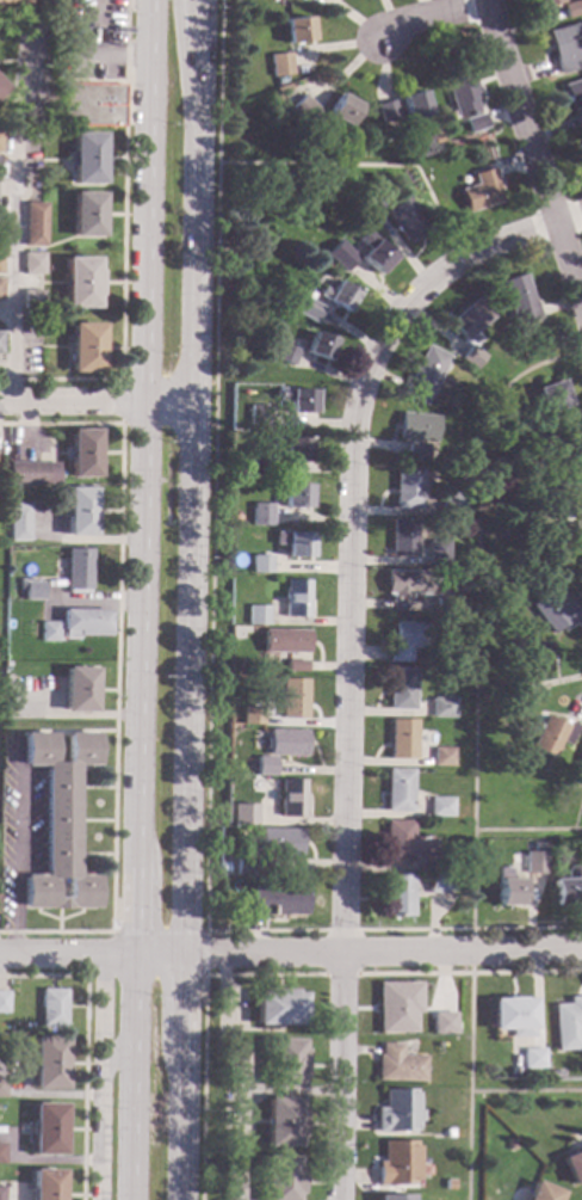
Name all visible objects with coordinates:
building: (12, 1)
building: (546, 2)
building: (571, 10)
road: (100, 16)
road: (429, 17)
building: (296, 30)
building: (566, 47)
building: (279, 64)
road: (188, 70)
road: (25, 82)
building: (1, 88)
building: (459, 90)
building: (572, 94)
building: (93, 105)
building: (303, 109)
building: (342, 110)
building: (414, 111)
building: (386, 112)
building: (578, 122)
building: (476, 124)
building: (436, 140)
building: (1, 142)
road: (533, 144)
building: (87, 158)
road: (143, 164)
road: (366, 166)
building: (479, 192)
building: (369, 201)
building: (87, 215)
road: (570, 215)
building: (1, 217)
building: (405, 221)
building: (36, 224)
road: (123, 250)
building: (373, 252)
building: (340, 256)
building: (1, 263)
building: (33, 264)
road: (13, 267)
building: (82, 283)
building: (1, 290)
building: (336, 296)
building: (33, 300)
building: (519, 301)
building: (301, 307)
building: (41, 321)
building: (469, 322)
building: (0, 343)
building: (318, 347)
building: (85, 349)
road: (581, 351)
building: (284, 353)
building: (471, 357)
road: (143, 364)
building: (482, 367)
building: (422, 375)
building: (444, 392)
building: (552, 396)
road: (122, 400)
building: (296, 400)
road: (70, 401)
road: (169, 401)
building: (256, 417)
building: (415, 427)
building: (533, 427)
building: (291, 449)
building: (82, 454)
building: (415, 454)
building: (566, 455)
building: (254, 464)
road: (213, 466)
building: (26, 474)
road: (193, 480)
building: (552, 486)
building: (407, 490)
building: (293, 497)
building: (518, 497)
building: (451, 505)
building: (576, 505)
building: (79, 512)
building: (259, 515)
building: (233, 518)
building: (18, 523)
building: (565, 534)
building: (402, 537)
building: (293, 544)
building: (436, 553)
building: (259, 565)
road: (527, 566)
building: (76, 572)
building: (407, 585)
building: (30, 590)
building: (295, 599)
building: (444, 608)
building: (556, 610)
road: (472, 613)
building: (256, 616)
building: (86, 622)
building: (49, 632)
road: (136, 633)
building: (405, 640)
building: (284, 641)
building: (531, 653)
road: (347, 656)
building: (296, 666)
road: (116, 672)
building: (400, 689)
building: (79, 690)
building: (518, 691)
building: (292, 700)
building: (441, 708)
building: (250, 715)
building: (552, 734)
building: (401, 739)
building: (280, 743)
building: (580, 757)
building: (441, 758)
building: (264, 767)
building: (397, 790)
building: (291, 799)
building: (440, 808)
building: (243, 816)
building: (58, 825)
road: (526, 830)
building: (279, 843)
building: (402, 843)
building: (535, 848)
building: (533, 862)
building: (431, 863)
building: (244, 864)
building: (439, 884)
building: (566, 888)
building: (506, 890)
building: (397, 897)
building: (277, 900)
road: (129, 912)
road: (471, 929)
road: (265, 930)
road: (342, 930)
road: (156, 931)
road: (470, 950)
road: (205, 953)
road: (380, 955)
road: (63, 958)
road: (154, 959)
road: (341, 973)
road: (470, 973)
road: (145, 976)
building: (4, 1003)
road: (180, 1004)
building: (52, 1008)
building: (279, 1008)
building: (397, 1008)
building: (512, 1016)
building: (566, 1023)
building: (442, 1024)
road: (203, 1028)
road: (85, 1045)
road: (113, 1056)
building: (532, 1059)
building: (49, 1064)
building: (285, 1064)
building: (398, 1066)
road: (101, 1078)
road: (125, 1078)
road: (466, 1085)
building: (1, 1087)
road: (524, 1090)
building: (397, 1113)
building: (283, 1122)
road: (179, 1125)
building: (48, 1130)
building: (447, 1134)
building: (508, 1145)
building: (1, 1155)
building: (396, 1165)
building: (572, 1167)
building: (280, 1179)
building: (47, 1184)
building: (447, 1186)
building: (1, 1193)
building: (540, 1193)
building: (391, 1198)

